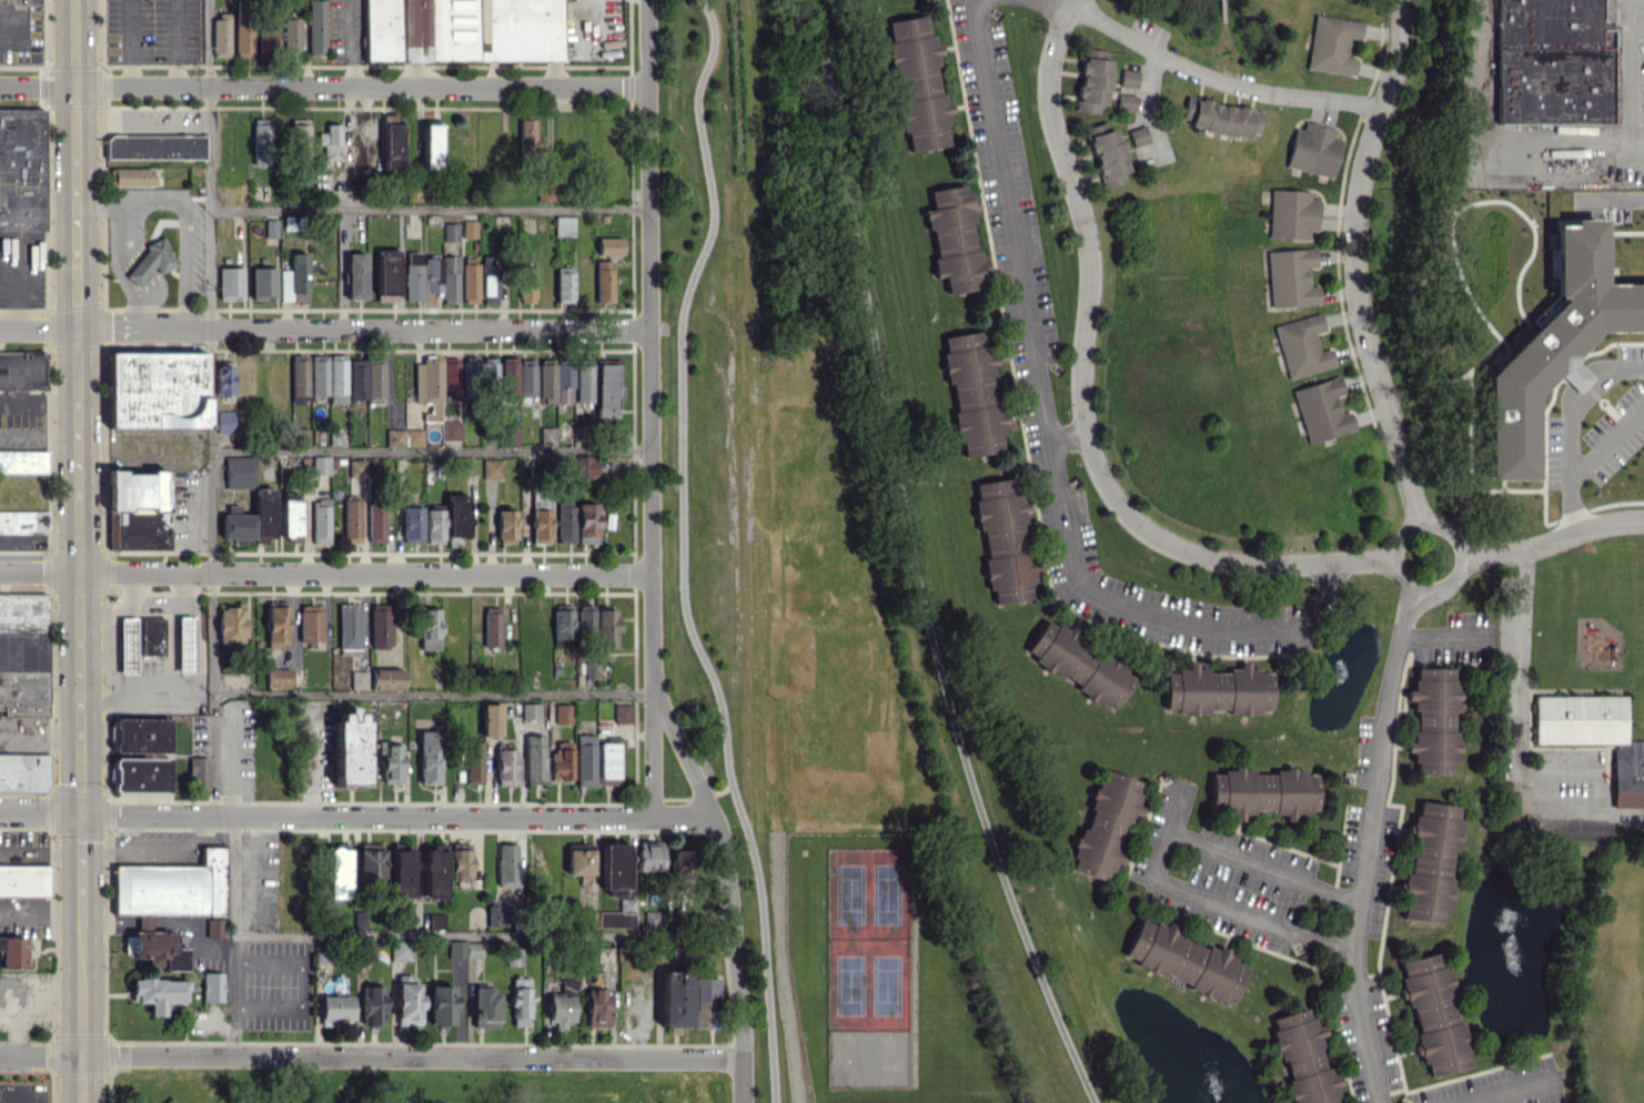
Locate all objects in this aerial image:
building: (315, 27)
building: (243, 28)
building: (462, 30)
building: (220, 34)
building: (266, 34)
building: (291, 34)
road: (129, 42)
road: (175, 43)
road: (349, 43)
building: (1332, 44)
building: (1550, 62)
road: (1204, 74)
building: (1128, 78)
building: (1092, 79)
building: (917, 84)
road: (323, 87)
road: (1625, 87)
building: (1126, 102)
road: (1149, 107)
building: (1220, 118)
road: (142, 124)
building: (299, 134)
building: (1138, 135)
road: (1486, 136)
building: (528, 138)
building: (261, 141)
building: (331, 141)
building: (391, 141)
building: (431, 145)
building: (154, 146)
building: (1313, 149)
building: (1107, 154)
building: (21, 169)
building: (129, 176)
building: (544, 192)
road: (1612, 200)
road: (129, 202)
road: (428, 209)
building: (1291, 213)
building: (563, 225)
building: (270, 227)
building: (468, 229)
building: (450, 232)
building: (954, 239)
building: (609, 245)
building: (151, 261)
road: (1353, 262)
road: (138, 263)
road: (183, 265)
building: (386, 274)
building: (355, 275)
building: (412, 275)
building: (442, 276)
building: (1290, 277)
building: (294, 279)
building: (470, 280)
building: (487, 281)
building: (604, 281)
building: (230, 283)
building: (263, 283)
building: (526, 283)
building: (563, 284)
road: (1087, 313)
road: (324, 327)
building: (1554, 345)
building: (1301, 346)
road: (210, 356)
building: (478, 370)
building: (22, 371)
building: (329, 376)
building: (222, 378)
building: (356, 378)
building: (517, 378)
building: (299, 381)
building: (374, 381)
building: (554, 382)
building: (584, 382)
building: (435, 383)
building: (157, 388)
building: (605, 388)
building: (971, 392)
road: (39, 402)
road: (78, 406)
road: (649, 409)
building: (1321, 409)
building: (224, 422)
road: (1562, 427)
building: (451, 429)
road: (1069, 434)
building: (546, 435)
building: (510, 436)
building: (394, 437)
building: (413, 437)
road: (1051, 443)
road: (1604, 446)
road: (431, 451)
building: (22, 461)
building: (320, 465)
building: (585, 467)
building: (356, 468)
building: (492, 468)
building: (137, 509)
building: (289, 515)
building: (456, 517)
building: (320, 520)
building: (351, 520)
building: (539, 520)
building: (565, 520)
building: (23, 522)
building: (411, 522)
building: (587, 522)
building: (375, 523)
building: (433, 525)
building: (506, 526)
road: (1554, 539)
building: (1003, 540)
road: (680, 551)
railway: (756, 551)
road: (912, 561)
road: (1310, 561)
road: (325, 570)
road: (135, 586)
road: (183, 586)
road: (1439, 588)
building: (585, 621)
road: (196, 623)
building: (310, 623)
building: (230, 625)
building: (276, 625)
building: (562, 625)
building: (349, 626)
building: (606, 626)
building: (380, 627)
building: (492, 627)
building: (430, 628)
road: (95, 629)
building: (152, 636)
road: (1442, 639)
building: (184, 644)
building: (23, 654)
building: (1078, 664)
building: (278, 677)
building: (386, 678)
building: (357, 679)
building: (1216, 689)
road: (433, 691)
building: (529, 710)
building: (622, 712)
building: (563, 714)
building: (491, 719)
building: (1432, 720)
road: (40, 732)
building: (1594, 737)
road: (1521, 746)
building: (350, 748)
building: (141, 755)
building: (428, 757)
building: (585, 760)
building: (561, 761)
building: (390, 762)
building: (473, 762)
building: (606, 762)
building: (506, 767)
building: (199, 770)
building: (23, 772)
building: (1262, 791)
building: (1509, 807)
road: (1177, 809)
traffic signals: (81, 813)
road: (359, 816)
building: (1105, 824)
road: (1369, 843)
building: (648, 856)
building: (680, 860)
road: (1159, 860)
building: (461, 862)
building: (581, 862)
building: (1428, 862)
building: (507, 864)
road: (81, 866)
building: (370, 866)
building: (614, 869)
building: (402, 871)
building: (337, 872)
building: (434, 872)
building: (24, 880)
road: (729, 889)
building: (169, 902)
building: (498, 914)
building: (618, 915)
road: (109, 919)
road: (143, 919)
building: (653, 919)
road: (41, 923)
building: (214, 927)
road: (199, 929)
road: (234, 935)
road: (483, 937)
park: (866, 937)
building: (465, 949)
building: (400, 950)
building: (12, 951)
building: (514, 955)
building: (1184, 961)
building: (212, 986)
building: (158, 992)
building: (675, 999)
building: (446, 1001)
building: (521, 1001)
building: (407, 1002)
building: (372, 1005)
building: (597, 1005)
building: (485, 1006)
building: (334, 1009)
road: (82, 1011)
building: (559, 1011)
building: (1432, 1013)
road: (41, 1054)
road: (412, 1058)
building: (1303, 1058)
park: (410, 1085)
road: (1512, 1092)

